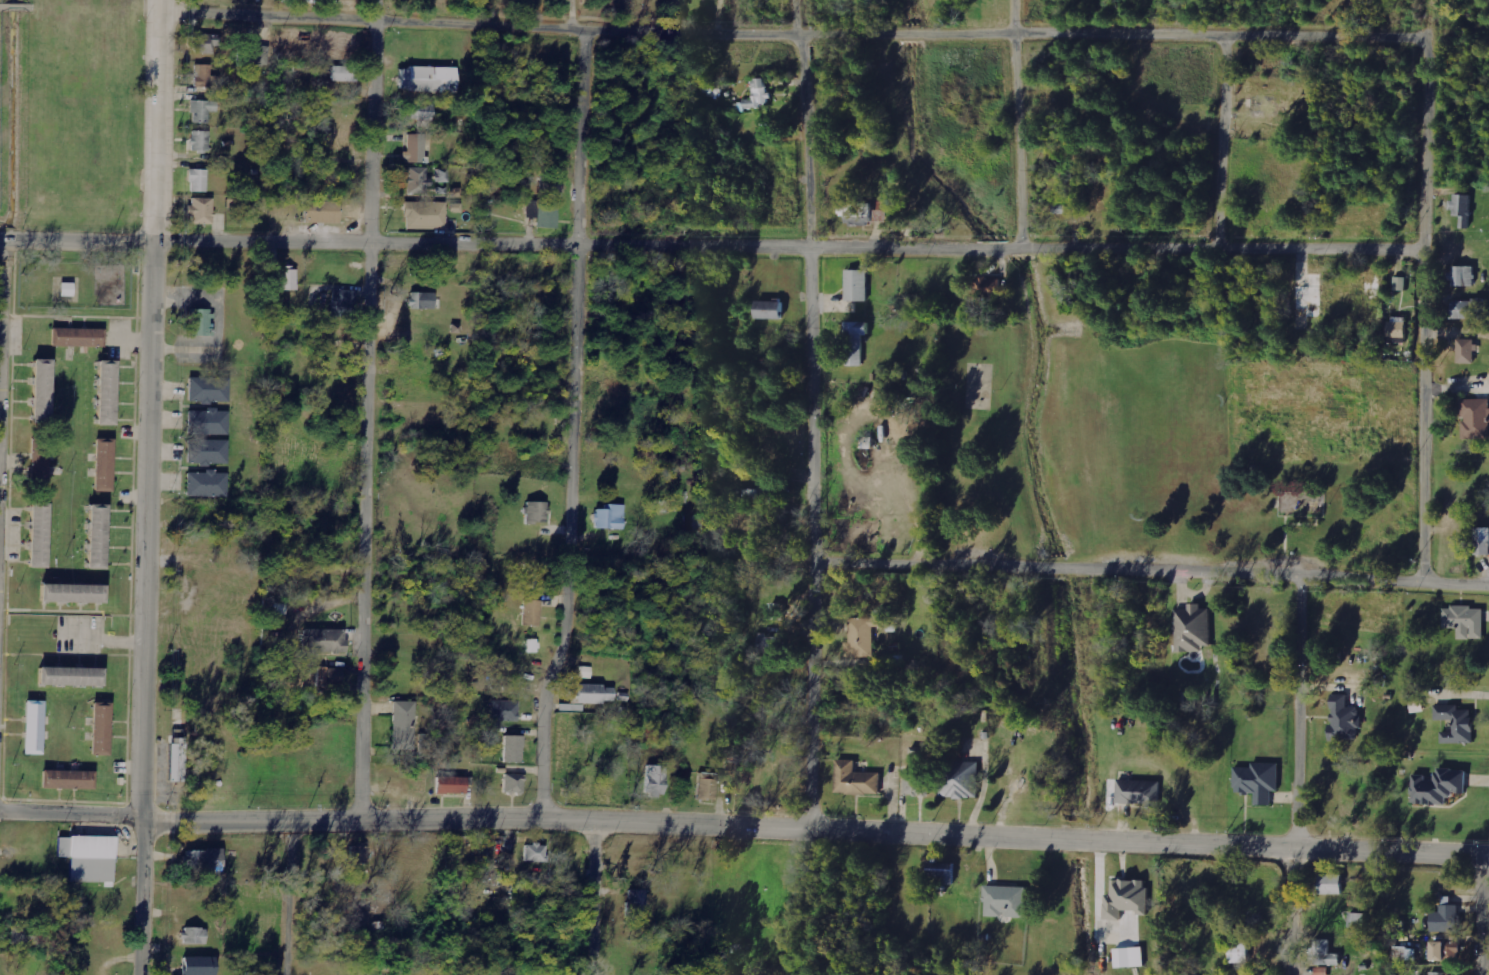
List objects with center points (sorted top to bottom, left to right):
building: (353, 0)
park: (582, 4)
road: (793, 34)
building: (206, 44)
building: (253, 53)
building: (344, 74)
building: (202, 76)
building: (428, 79)
building: (759, 94)
park: (72, 109)
building: (202, 111)
building: (421, 112)
road: (1019, 122)
road: (1224, 138)
building: (200, 141)
building: (415, 149)
building: (198, 180)
building: (417, 181)
building: (551, 187)
building: (1463, 209)
building: (201, 211)
building: (322, 212)
building: (543, 213)
building: (857, 213)
building: (425, 215)
building: (881, 215)
road: (711, 243)
building: (1465, 276)
building: (289, 280)
building: (1401, 283)
building: (1372, 284)
building: (858, 285)
building: (988, 286)
building: (67, 289)
building: (422, 301)
building: (344, 302)
road: (1422, 304)
building: (1470, 308)
building: (770, 309)
building: (1368, 313)
building: (200, 322)
building: (1398, 327)
building: (76, 338)
building: (856, 341)
building: (1467, 350)
road: (3, 356)
park: (977, 384)
building: (209, 390)
building: (43, 391)
building: (107, 393)
road: (372, 411)
road: (577, 411)
road: (812, 415)
building: (1476, 418)
building: (208, 423)
park: (1173, 445)
building: (208, 452)
building: (39, 463)
building: (103, 466)
building: (207, 484)
road: (151, 487)
building: (762, 491)
building: (537, 513)
building: (610, 518)
building: (39, 536)
building: (98, 537)
building: (1482, 540)
road: (1150, 570)
building: (73, 595)
building: (532, 613)
building: (1466, 621)
building: (1194, 628)
building: (862, 637)
building: (325, 641)
building: (771, 644)
building: (531, 646)
building: (585, 672)
building: (71, 677)
building: (330, 677)
building: (593, 694)
building: (1417, 706)
building: (504, 710)
building: (1344, 719)
building: (1457, 723)
building: (404, 726)
building: (33, 728)
building: (100, 730)
building: (513, 749)
building: (178, 760)
road: (1294, 772)
building: (856, 779)
building: (67, 780)
building: (656, 781)
building: (961, 781)
building: (1259, 781)
building: (918, 783)
building: (513, 784)
building: (451, 785)
building: (1439, 786)
building: (707, 787)
building: (1139, 791)
road: (72, 811)
road: (816, 832)
building: (535, 853)
building: (89, 858)
building: (204, 862)
building: (944, 871)
building: (1332, 884)
road: (593, 898)
building: (1128, 898)
road: (284, 899)
building: (1007, 901)
building: (636, 904)
road: (1479, 915)
building: (1446, 919)
building: (1357, 922)
building: (20, 935)
building: (195, 936)
building: (1446, 951)
building: (1326, 953)
building: (1406, 954)
building: (1131, 957)
building: (199, 966)
building: (1322, 971)
building: (1442, 974)

